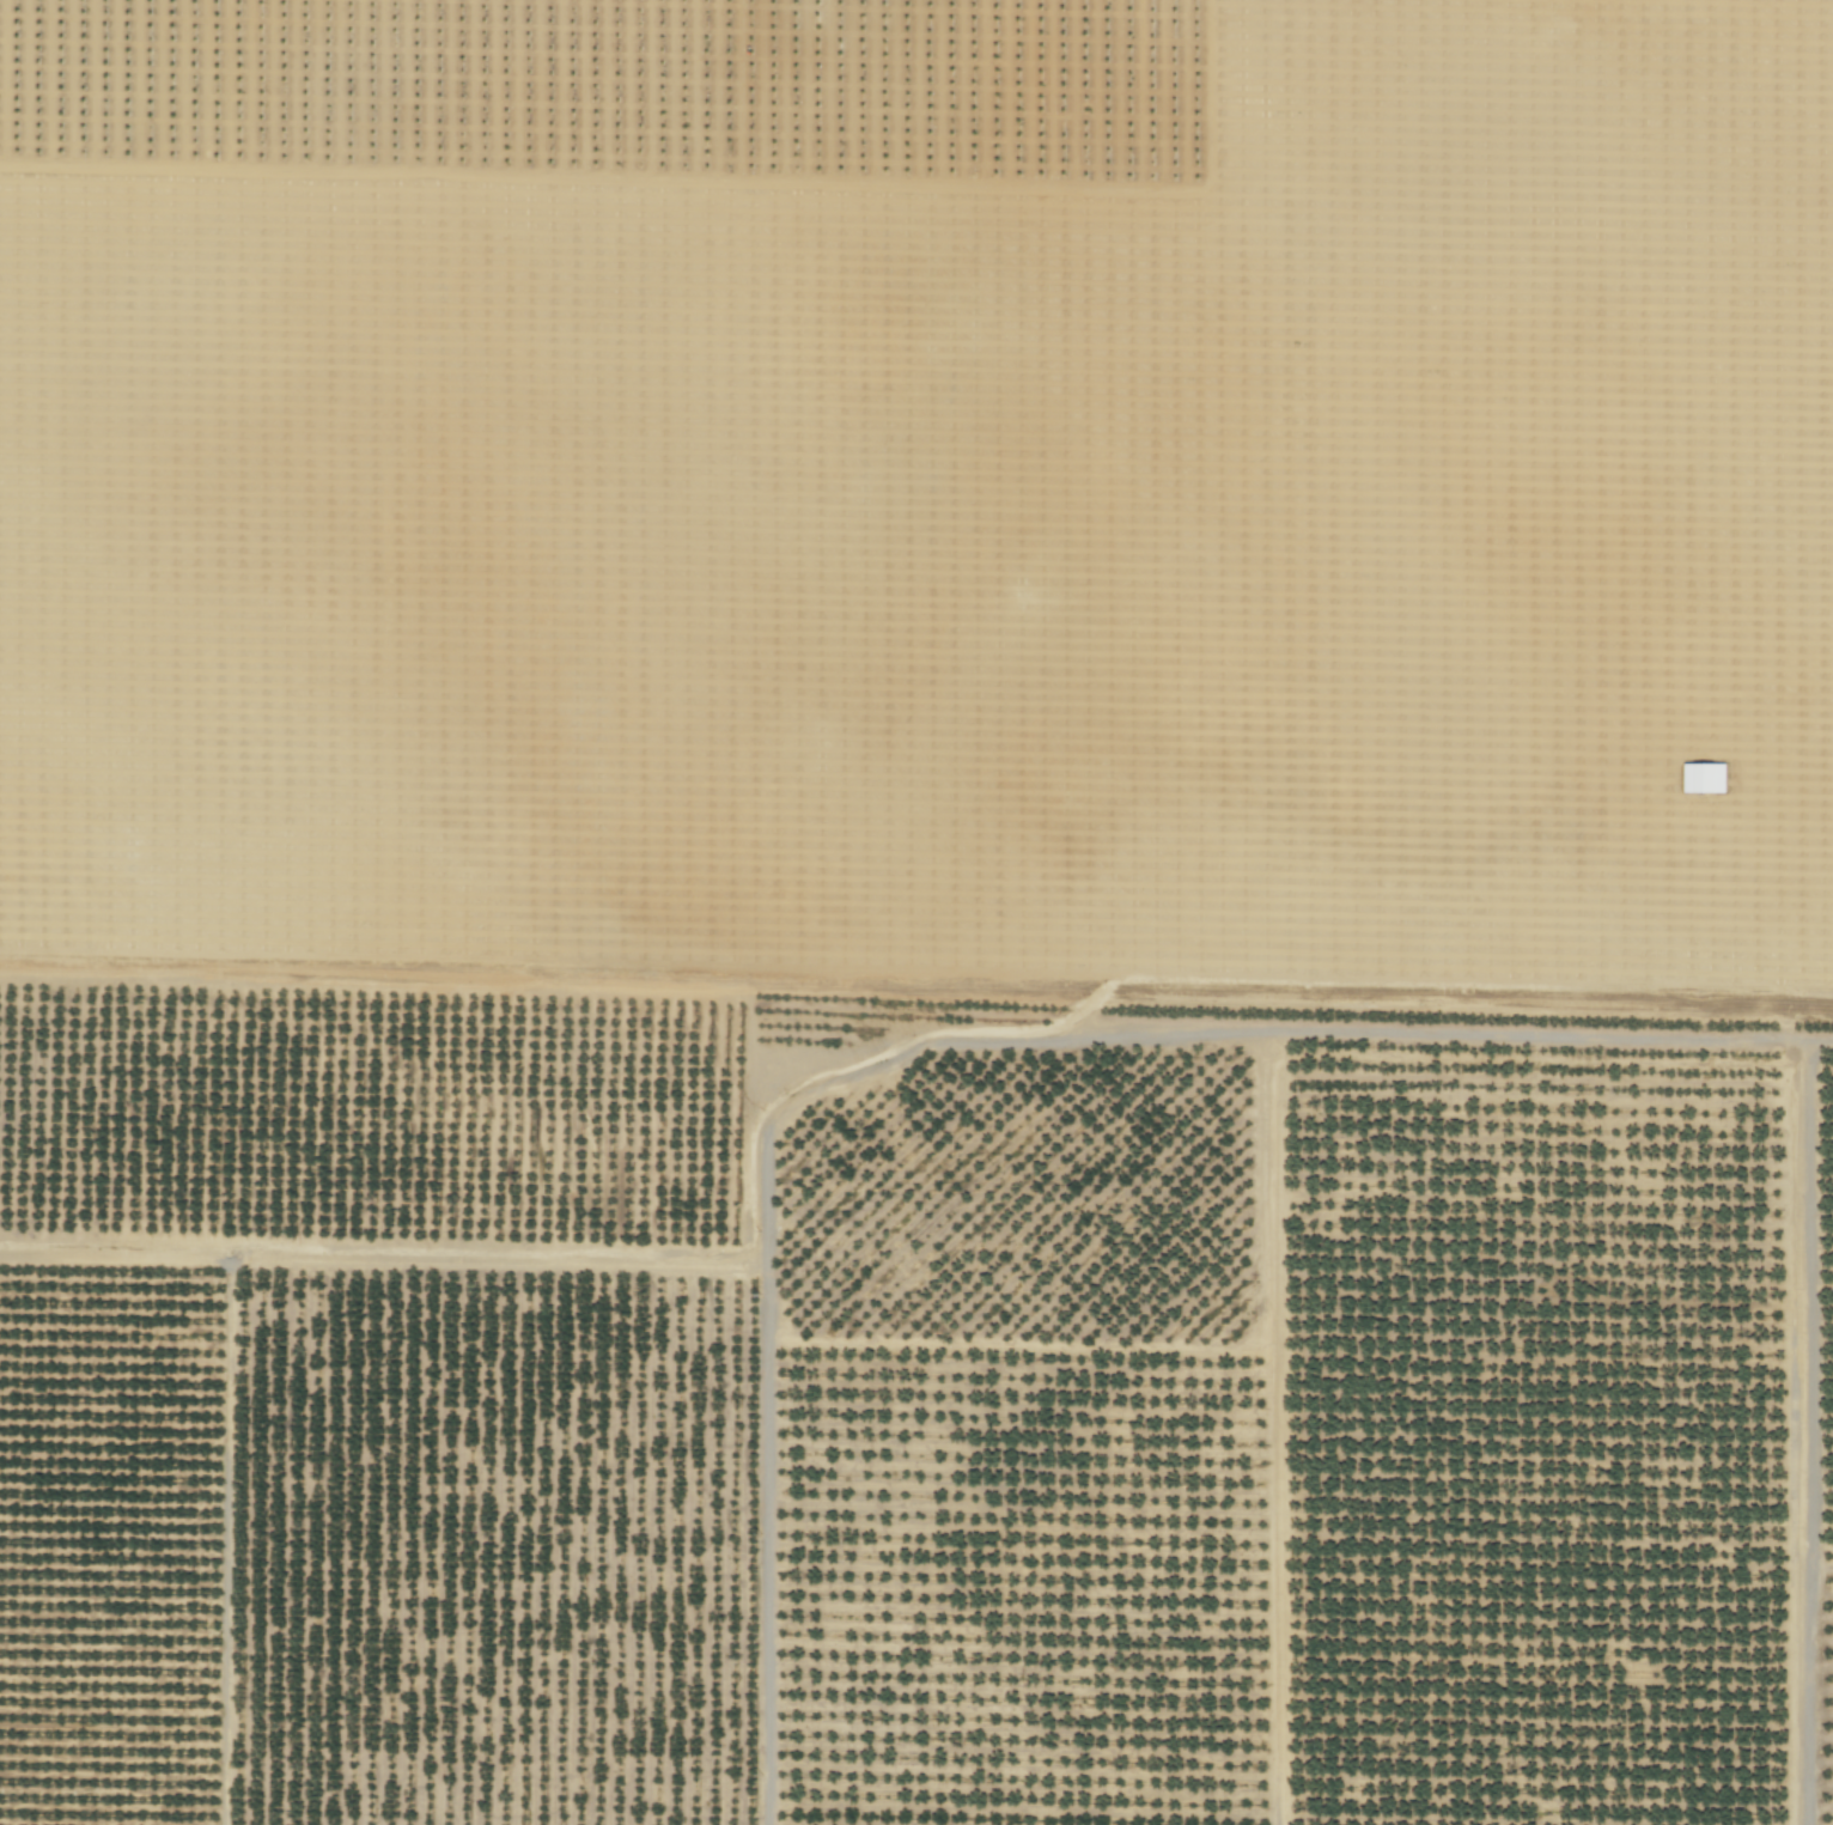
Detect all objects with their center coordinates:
building: (1700, 778)
road: (1803, 1442)

